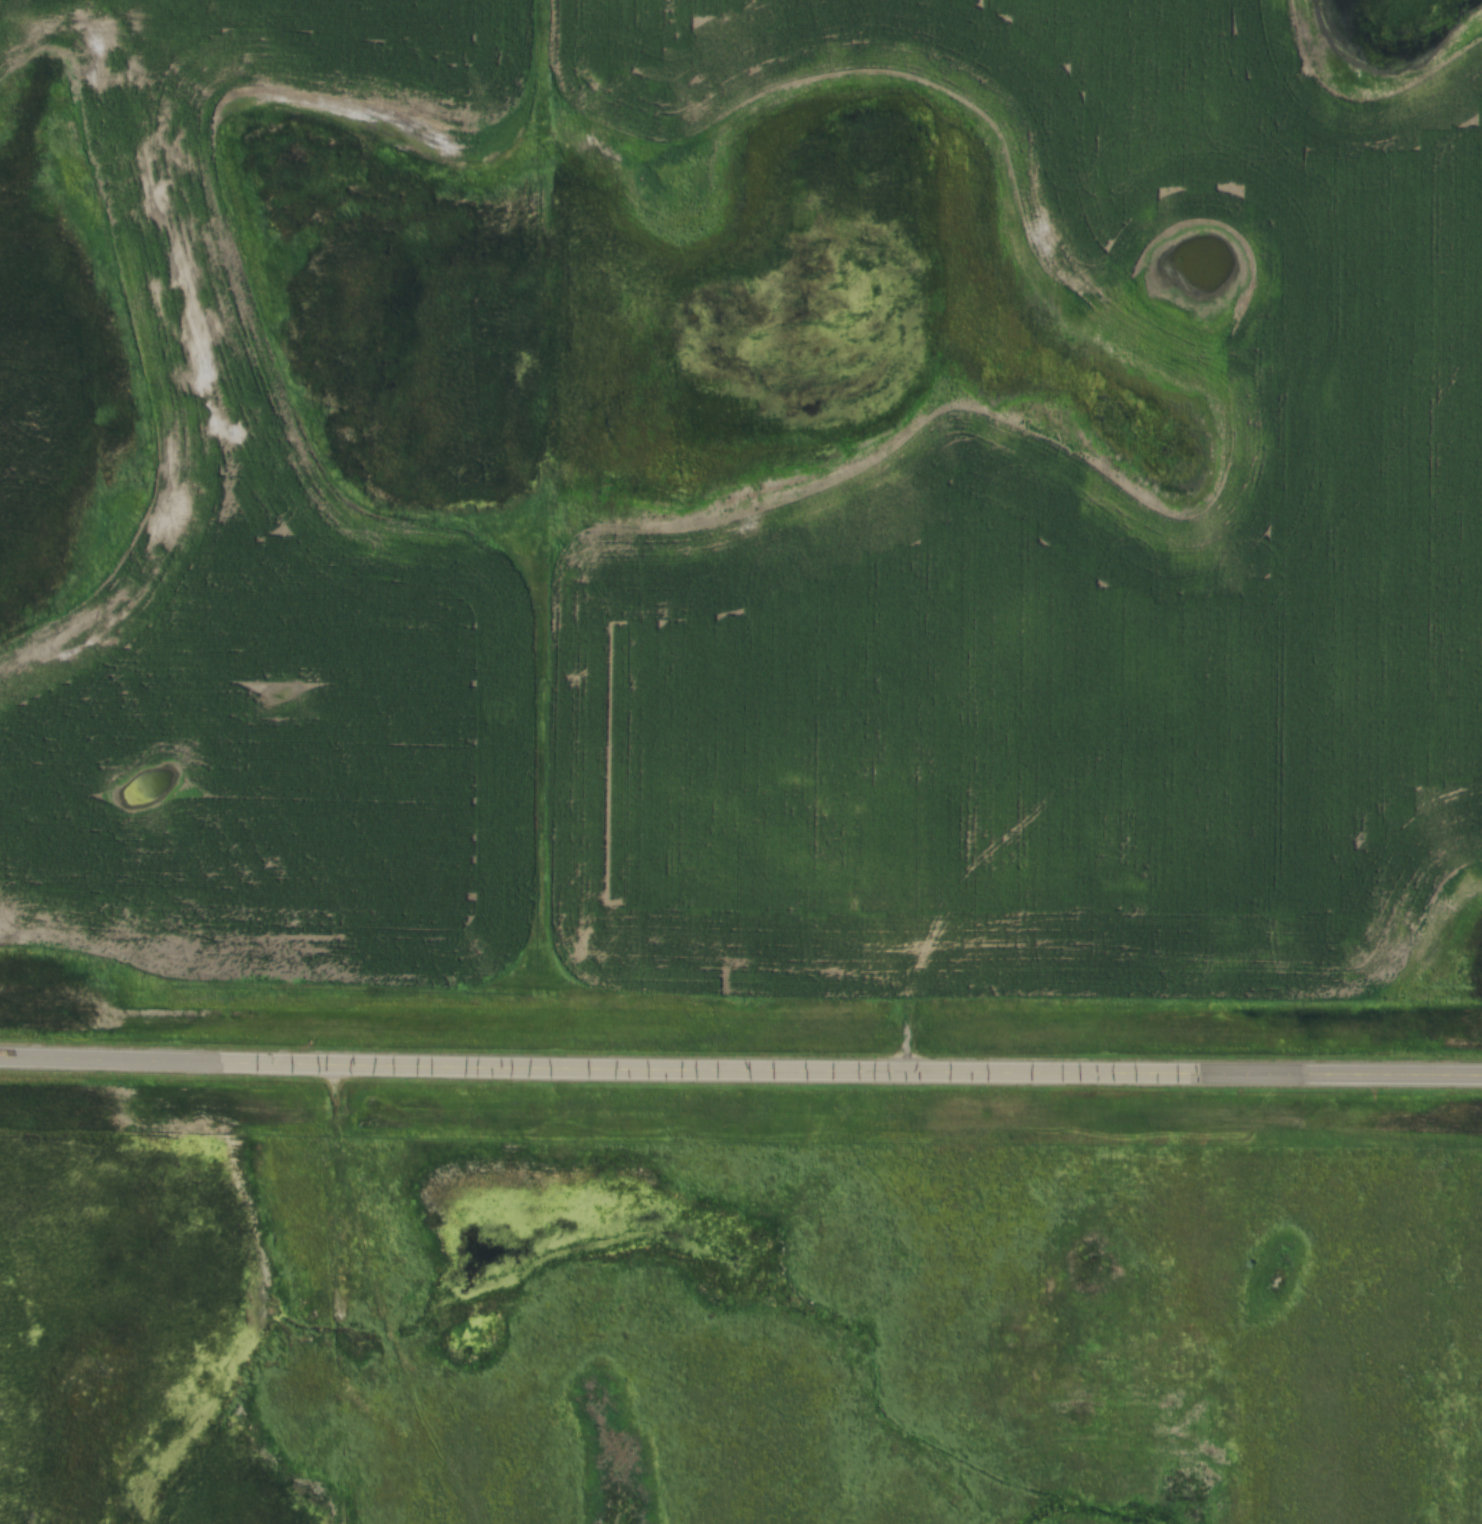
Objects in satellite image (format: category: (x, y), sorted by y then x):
road: (740, 1076)

